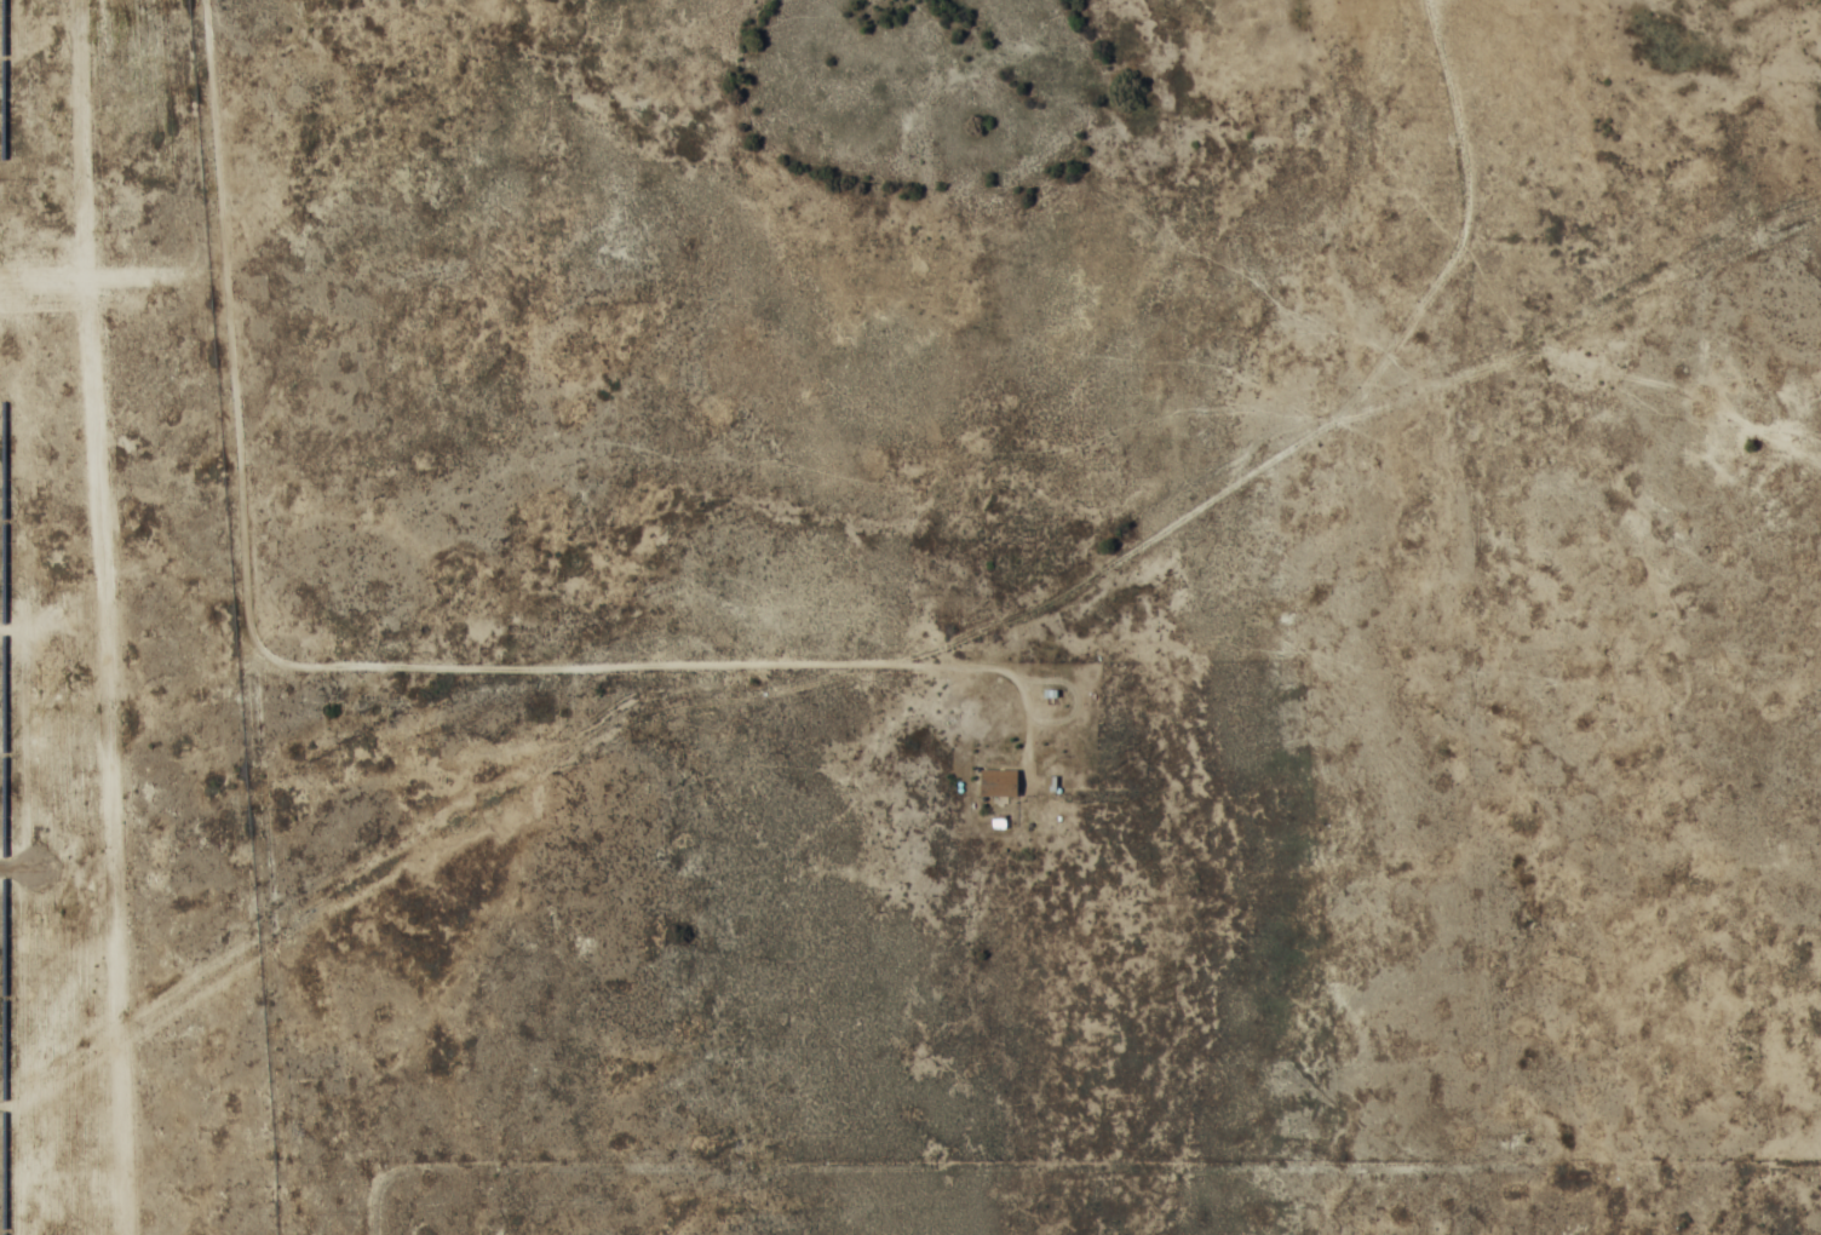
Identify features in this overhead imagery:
road: (1521, 225)
solar farm: (34, 601)
road: (329, 654)
road: (896, 671)
building: (998, 782)

